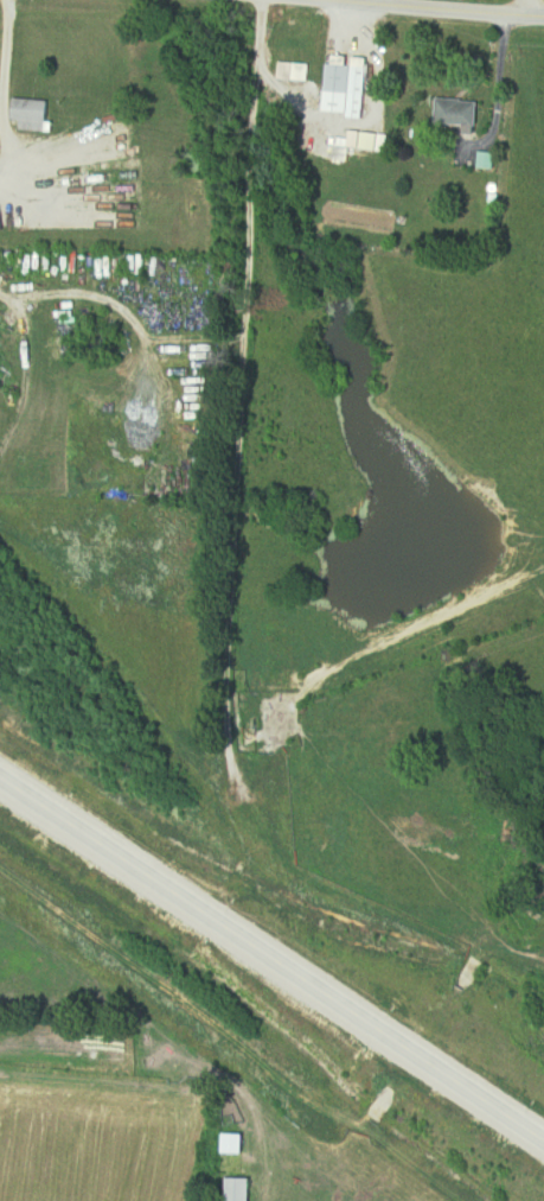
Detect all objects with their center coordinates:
road: (412, 9)
building: (303, 75)
building: (348, 89)
road: (497, 93)
road: (11, 96)
building: (155, 99)
building: (462, 113)
building: (32, 114)
building: (95, 163)
road: (238, 421)
building: (276, 681)
building: (290, 776)
road: (273, 960)
building: (242, 1190)

